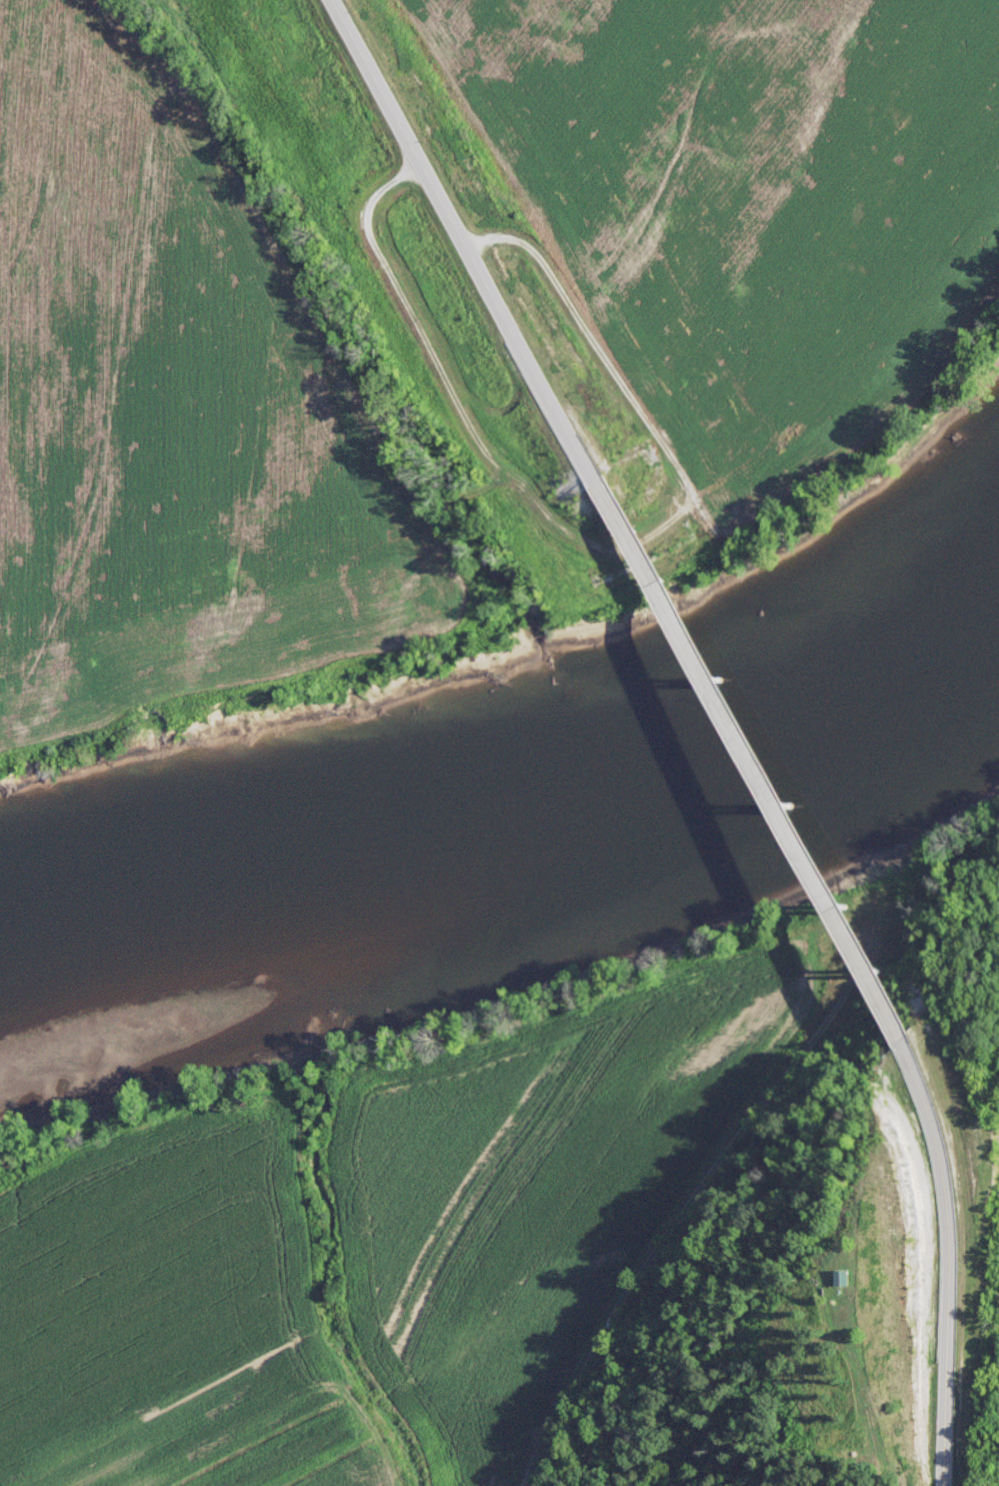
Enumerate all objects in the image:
road: (461, 240)
road: (751, 758)
river: (518, 846)
crop: (536, 1207)
road: (945, 1260)
crop: (167, 1302)
crop: (308, 1452)

